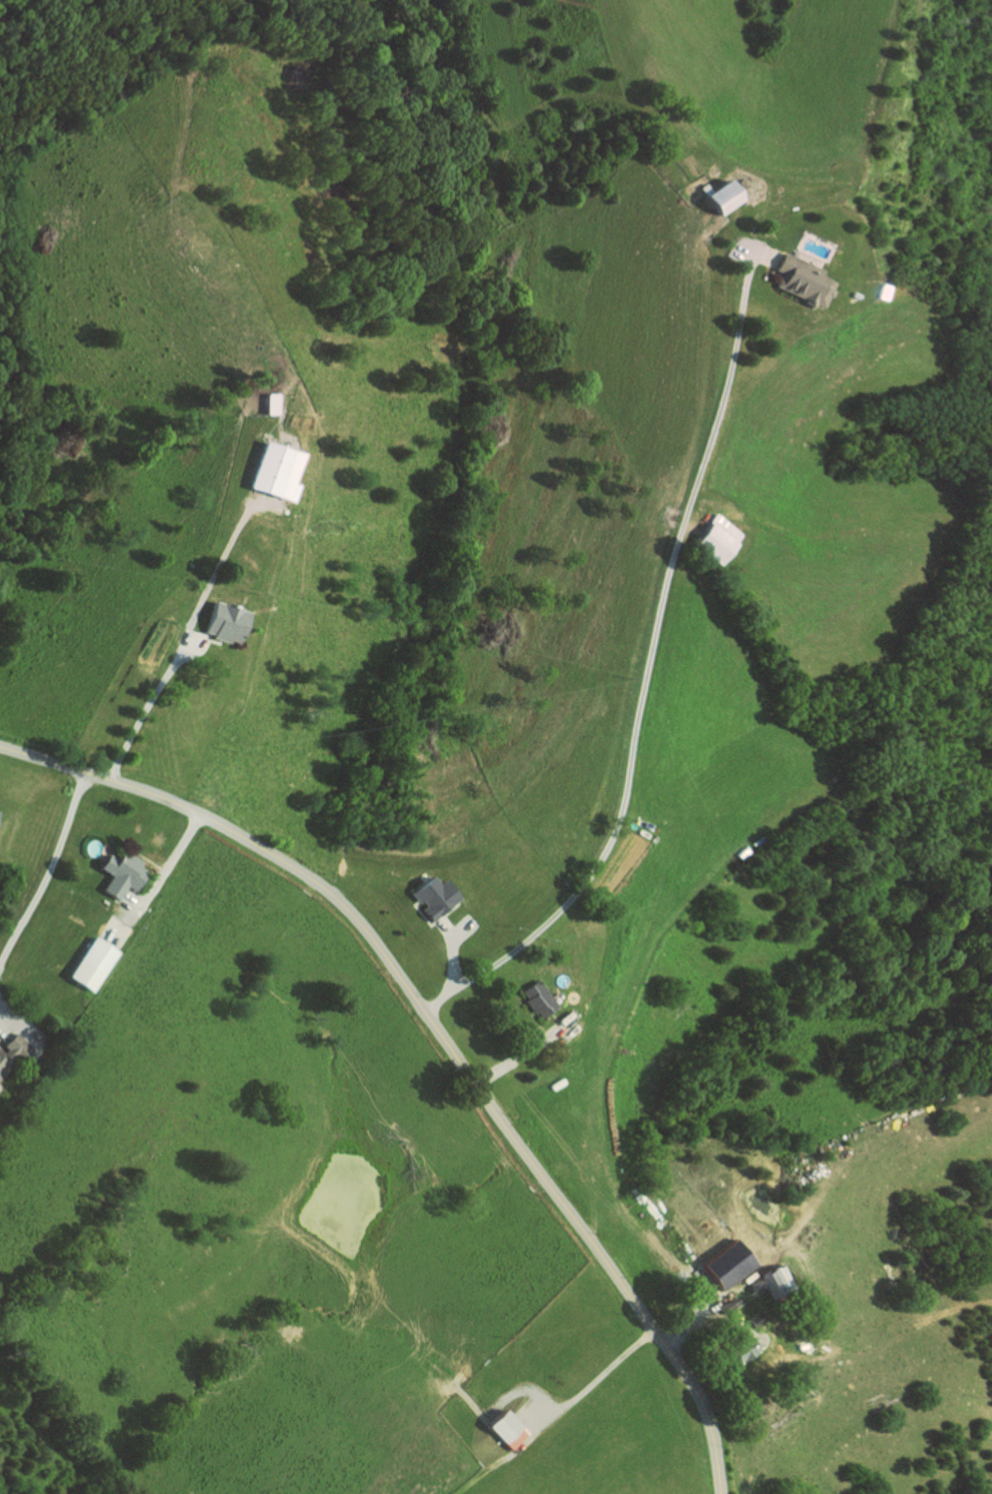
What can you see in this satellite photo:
building: (724, 196)
building: (711, 197)
road: (759, 251)
building: (805, 280)
building: (855, 294)
building: (266, 403)
building: (267, 470)
building: (718, 539)
building: (224, 628)
road: (187, 630)
building: (192, 642)
road: (647, 667)
road: (49, 871)
building: (126, 875)
road: (156, 880)
building: (424, 897)
road: (458, 931)
road: (448, 953)
building: (100, 956)
building: (537, 998)
road: (553, 1018)
road: (6, 1032)
road: (441, 1034)
road: (525, 1050)
building: (14, 1054)
building: (719, 1265)
building: (778, 1282)
building: (750, 1285)
building: (730, 1304)
building: (757, 1318)
road: (691, 1328)
building: (744, 1349)
road: (523, 1390)
road: (577, 1394)
building: (507, 1428)
road: (476, 1475)

